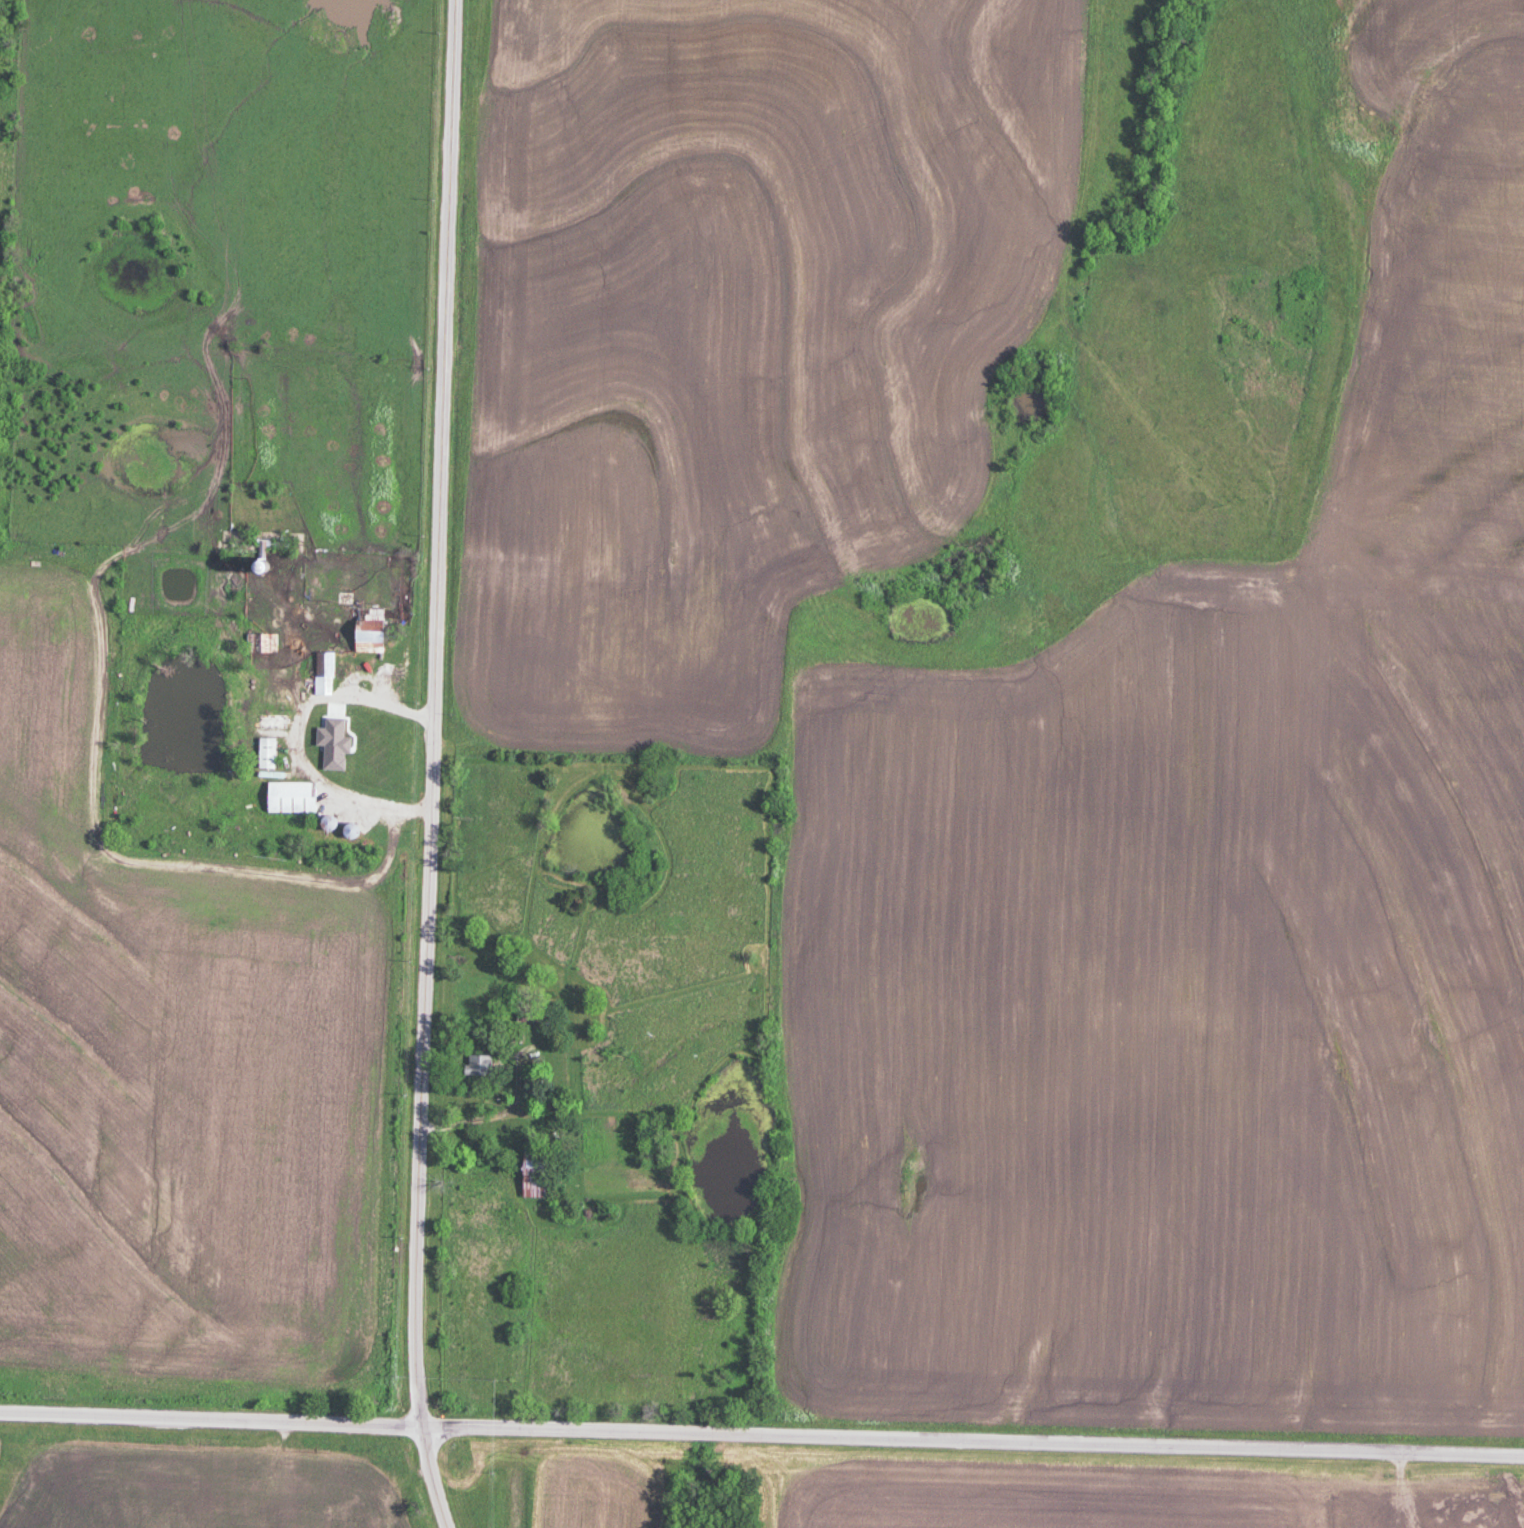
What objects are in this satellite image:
building: (369, 613)
building: (368, 639)
building: (261, 641)
building: (324, 672)
building: (349, 738)
road: (297, 741)
building: (267, 751)
road: (438, 765)
building: (291, 796)
building: (531, 1011)
building: (478, 1063)
building: (552, 1101)
road: (495, 1112)
building: (535, 1171)
road: (762, 1432)

